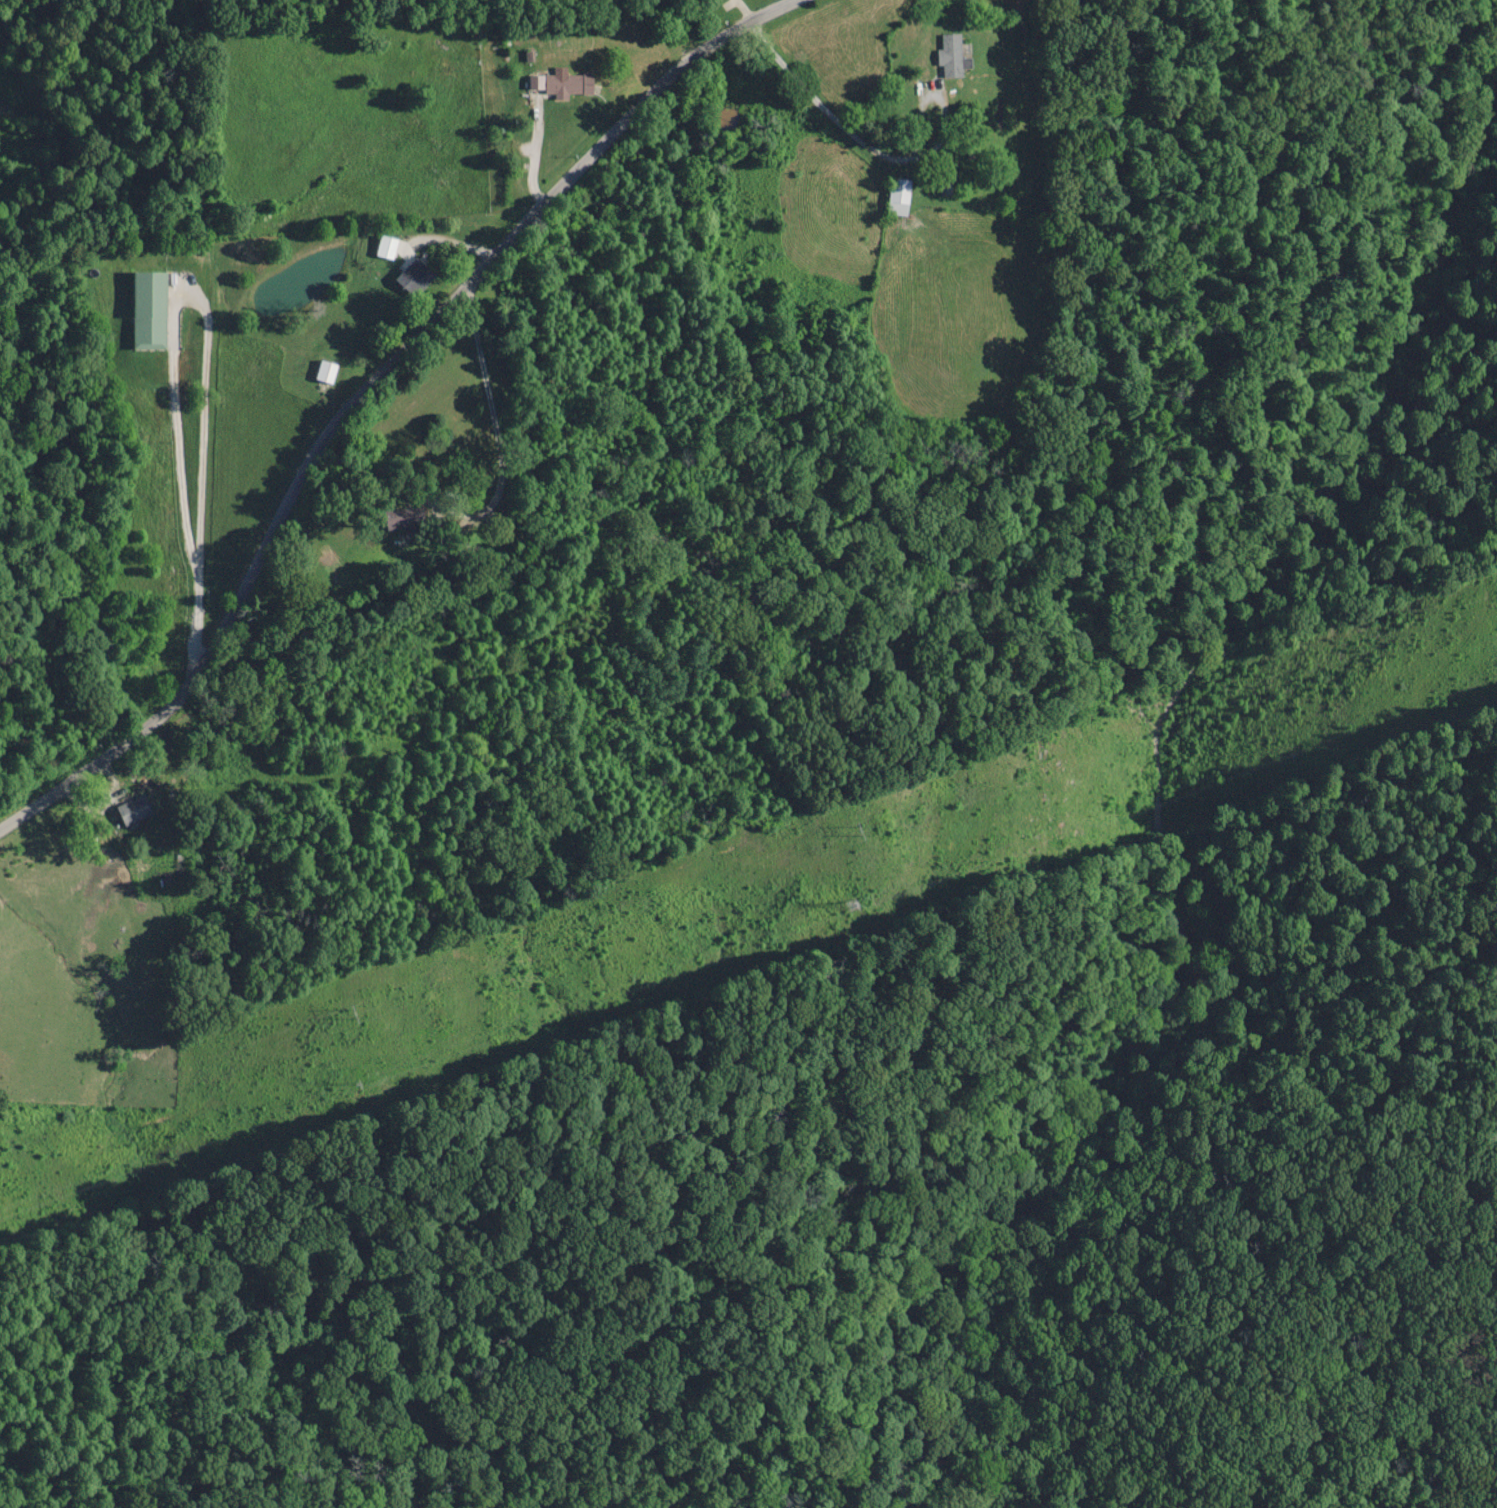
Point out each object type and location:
building: (950, 57)
building: (559, 85)
building: (833, 178)
building: (946, 184)
building: (895, 197)
building: (384, 247)
building: (414, 276)
building: (146, 310)
building: (324, 372)
road: (363, 388)
building: (402, 520)
building: (131, 810)

